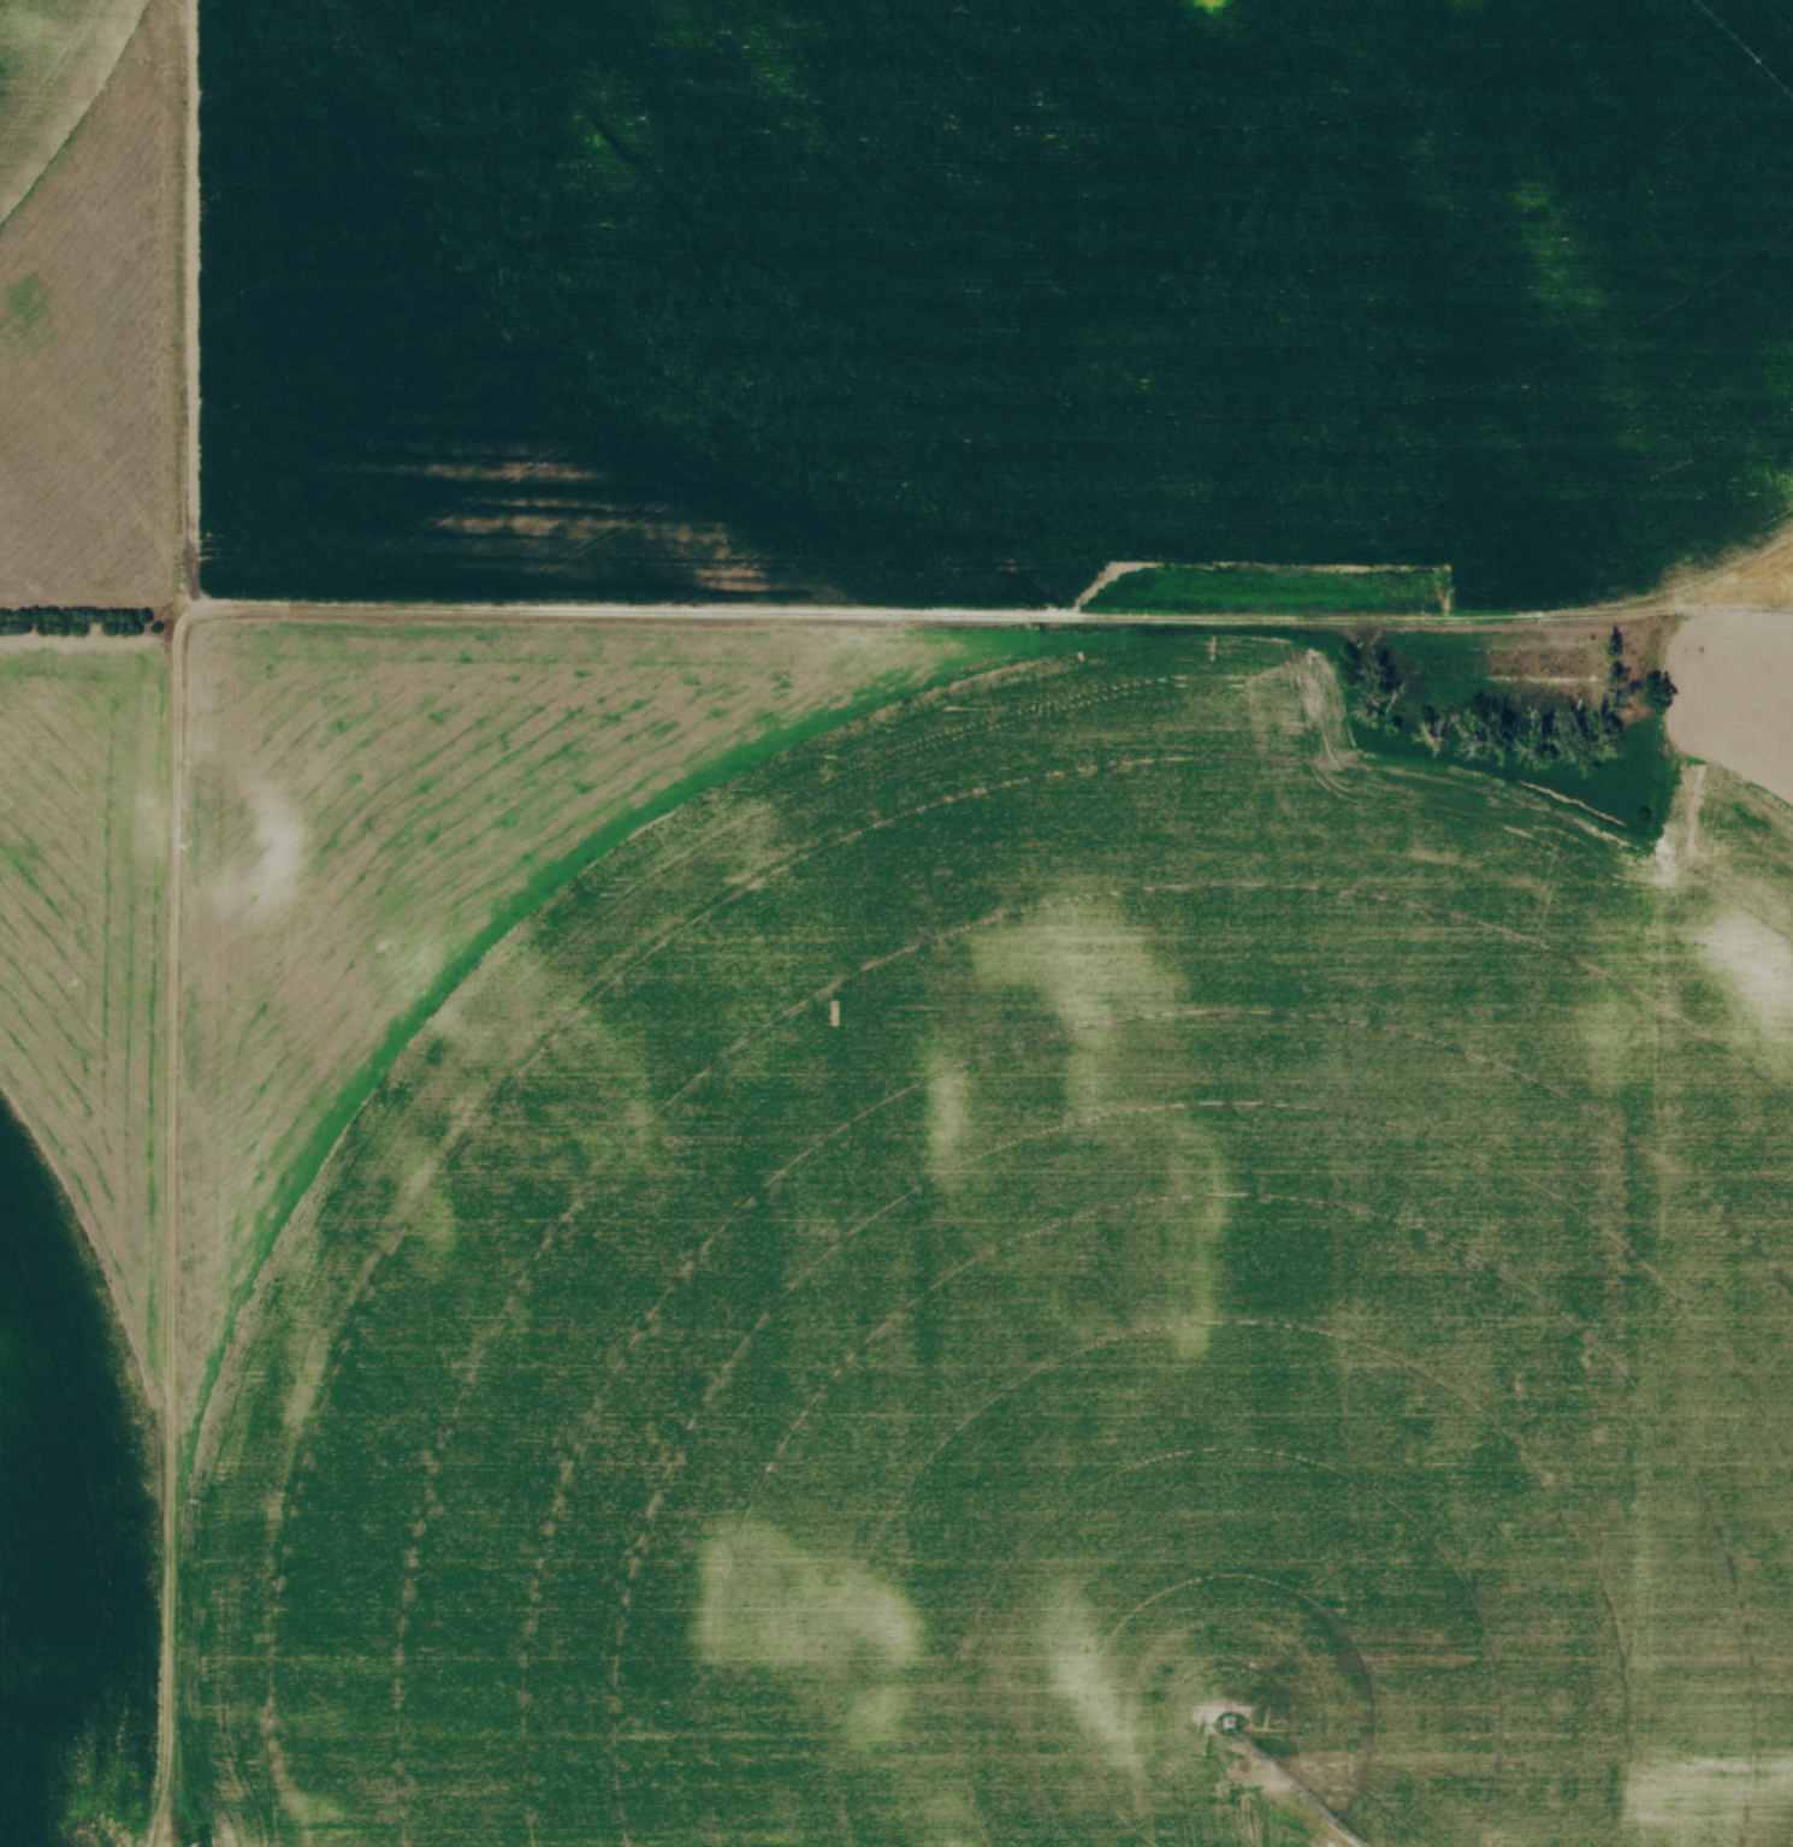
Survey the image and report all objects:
crop: (48, 72)
crop: (927, 945)

